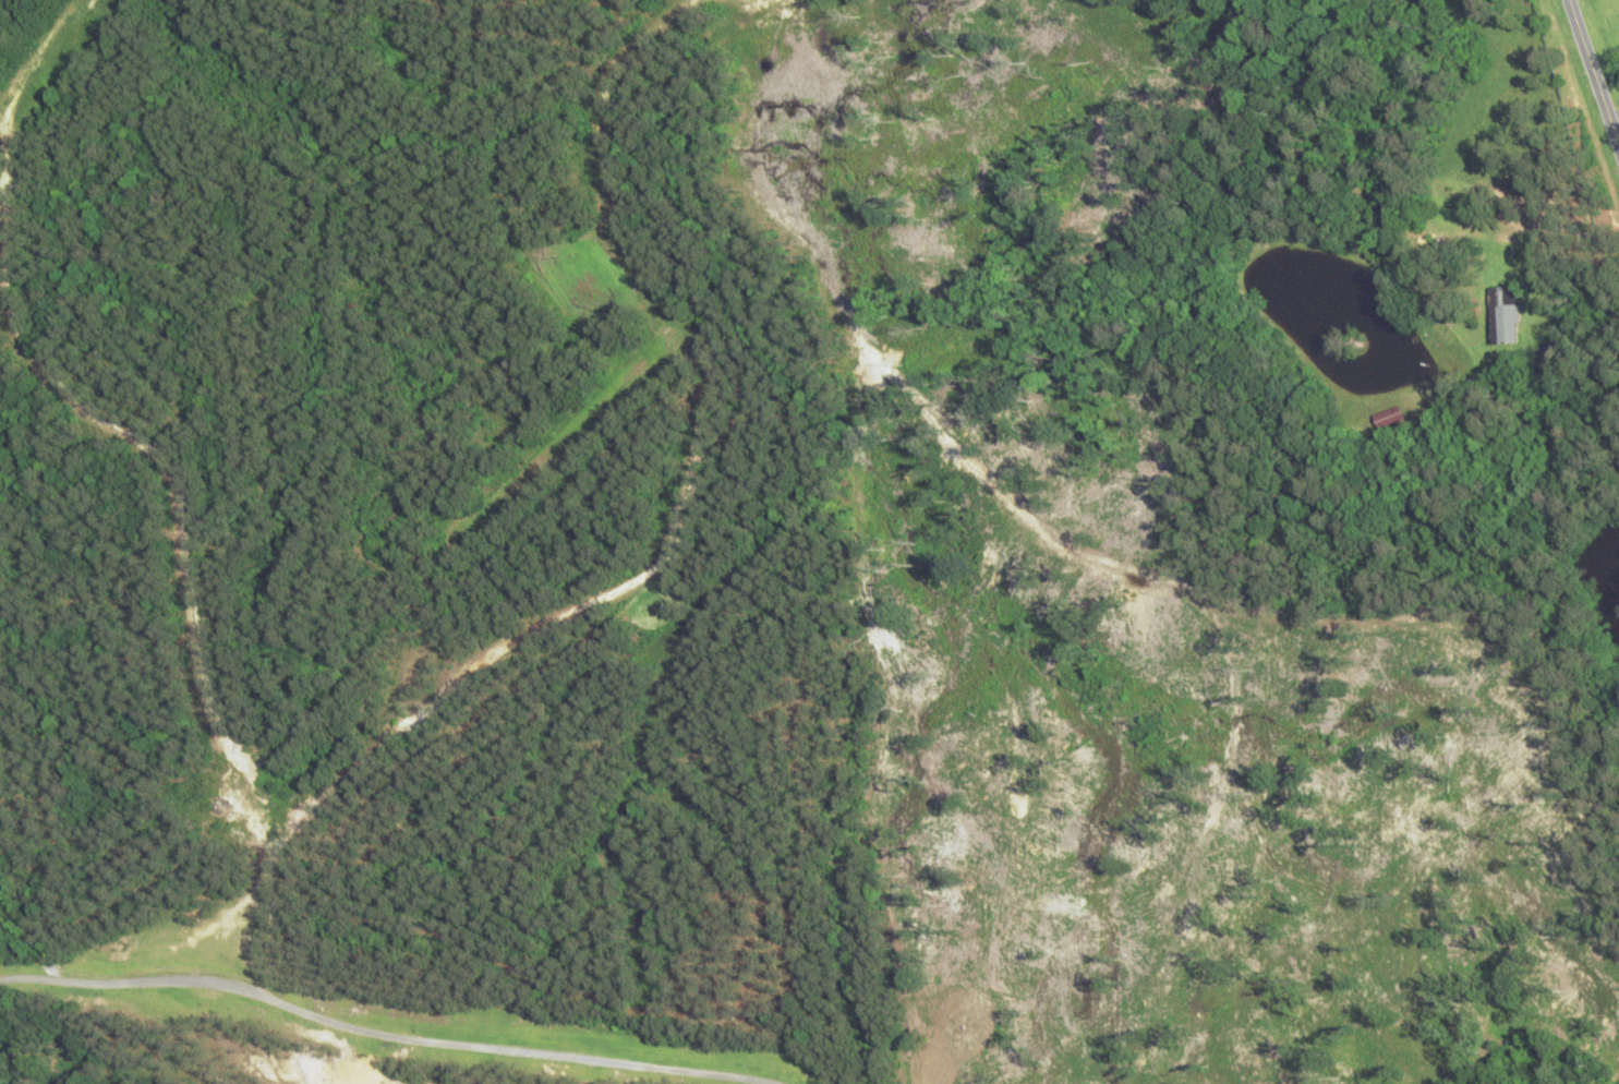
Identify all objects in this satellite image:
road: (1594, 74)
building: (1506, 317)
building: (1552, 356)
building: (1386, 420)

